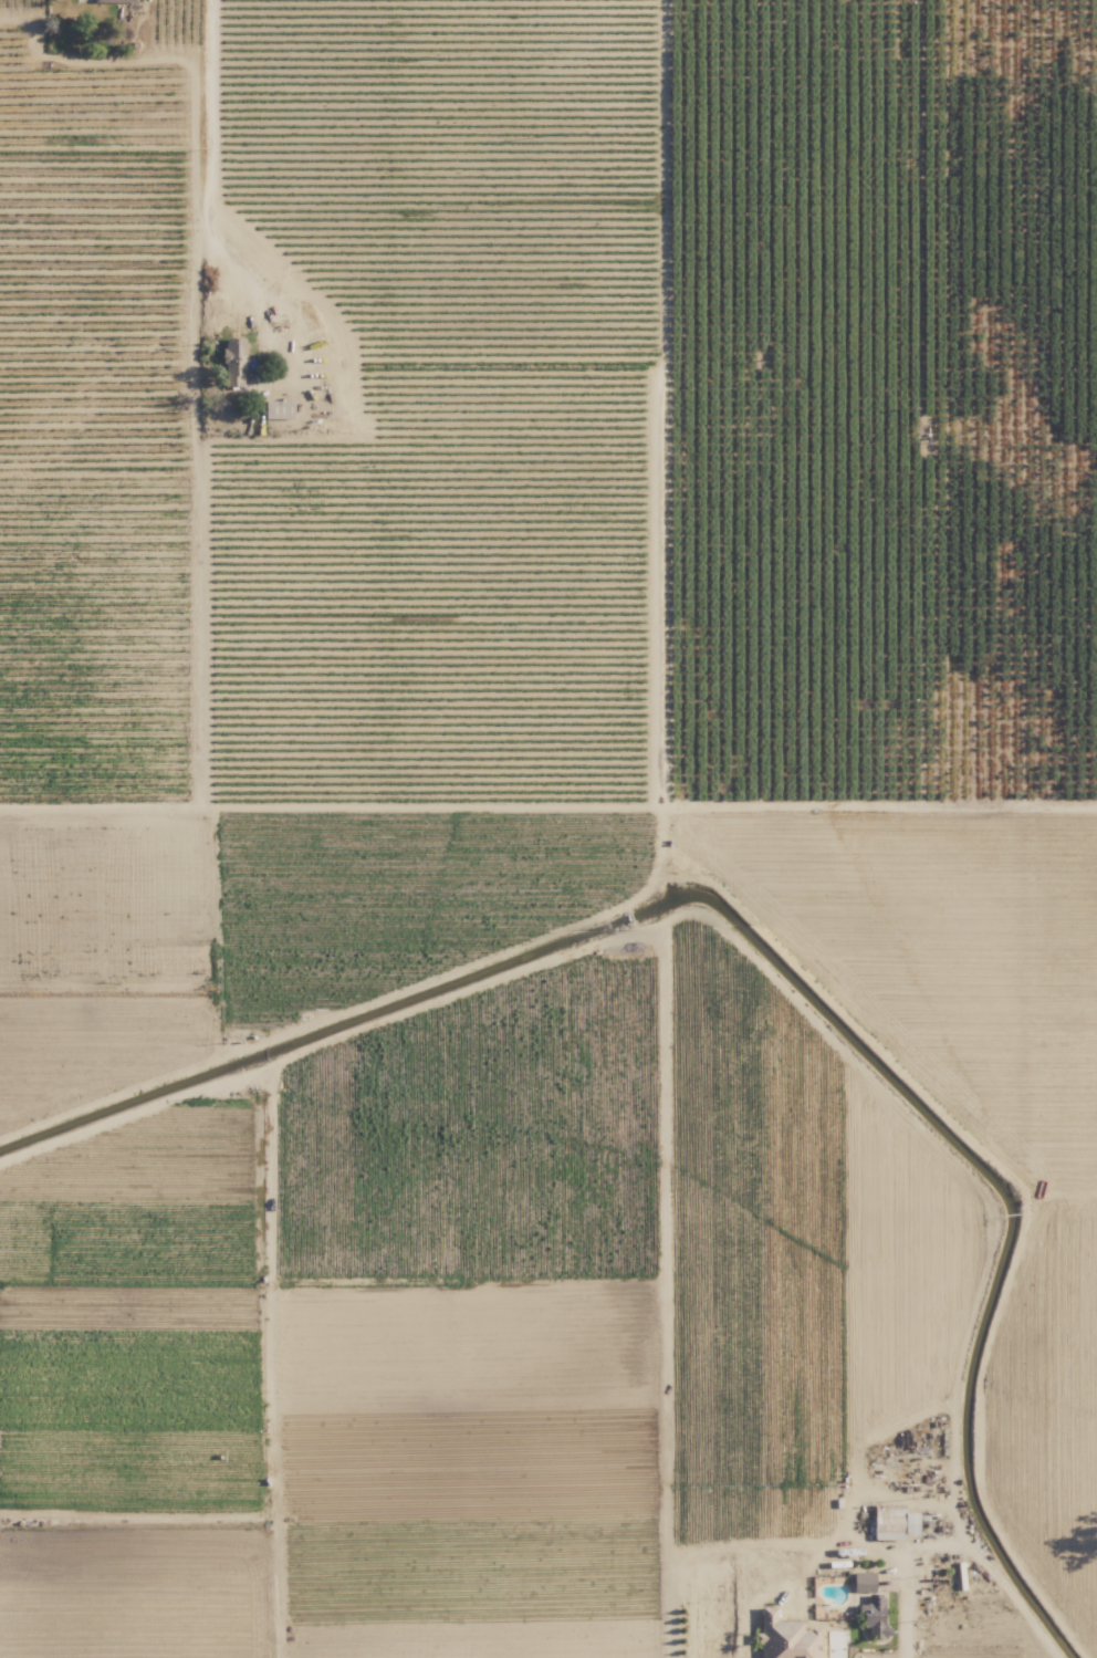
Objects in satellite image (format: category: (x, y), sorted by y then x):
building: (113, 0)
road: (209, 149)
building: (233, 363)
building: (278, 409)
building: (894, 1527)
building: (859, 1582)
road: (905, 1605)
building: (869, 1615)
building: (784, 1640)

